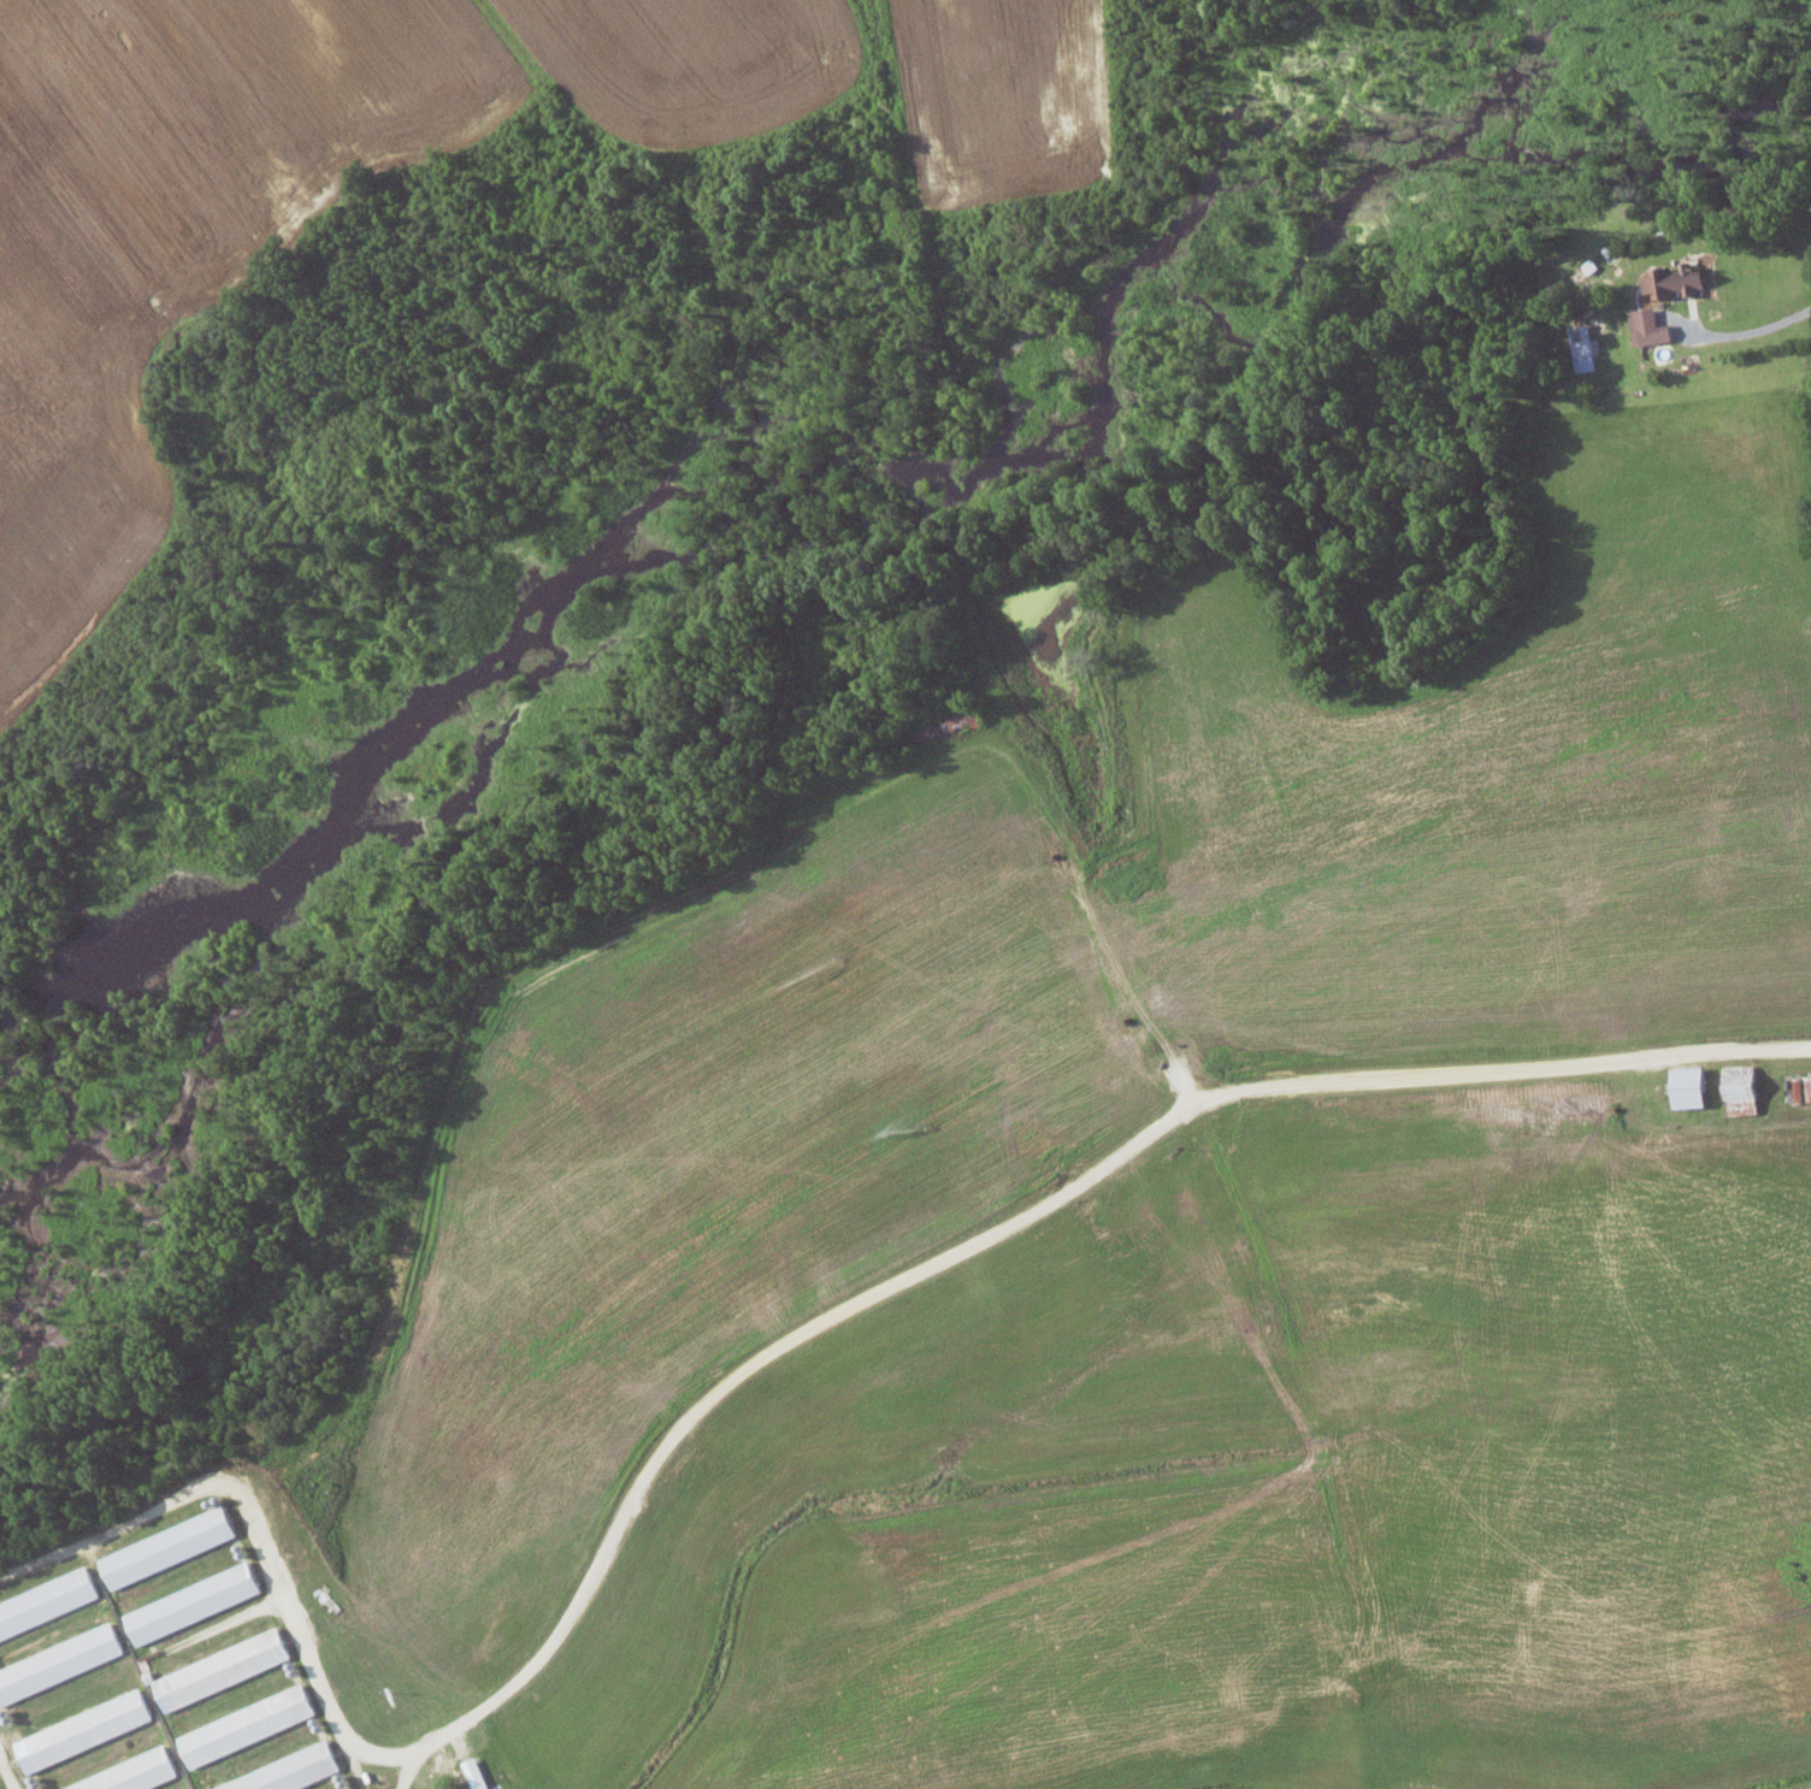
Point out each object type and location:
building: (1675, 282)
road: (1750, 324)
building: (1648, 327)
building: (1582, 348)
road: (1576, 1059)
building: (1691, 1088)
building: (1742, 1091)
building: (167, 1547)
building: (47, 1602)
building: (193, 1602)
building: (59, 1663)
building: (222, 1669)
building: (247, 1725)
building: (84, 1730)
building: (288, 1772)
building: (476, 1773)
building: (132, 1775)
road: (1799, 1785)

